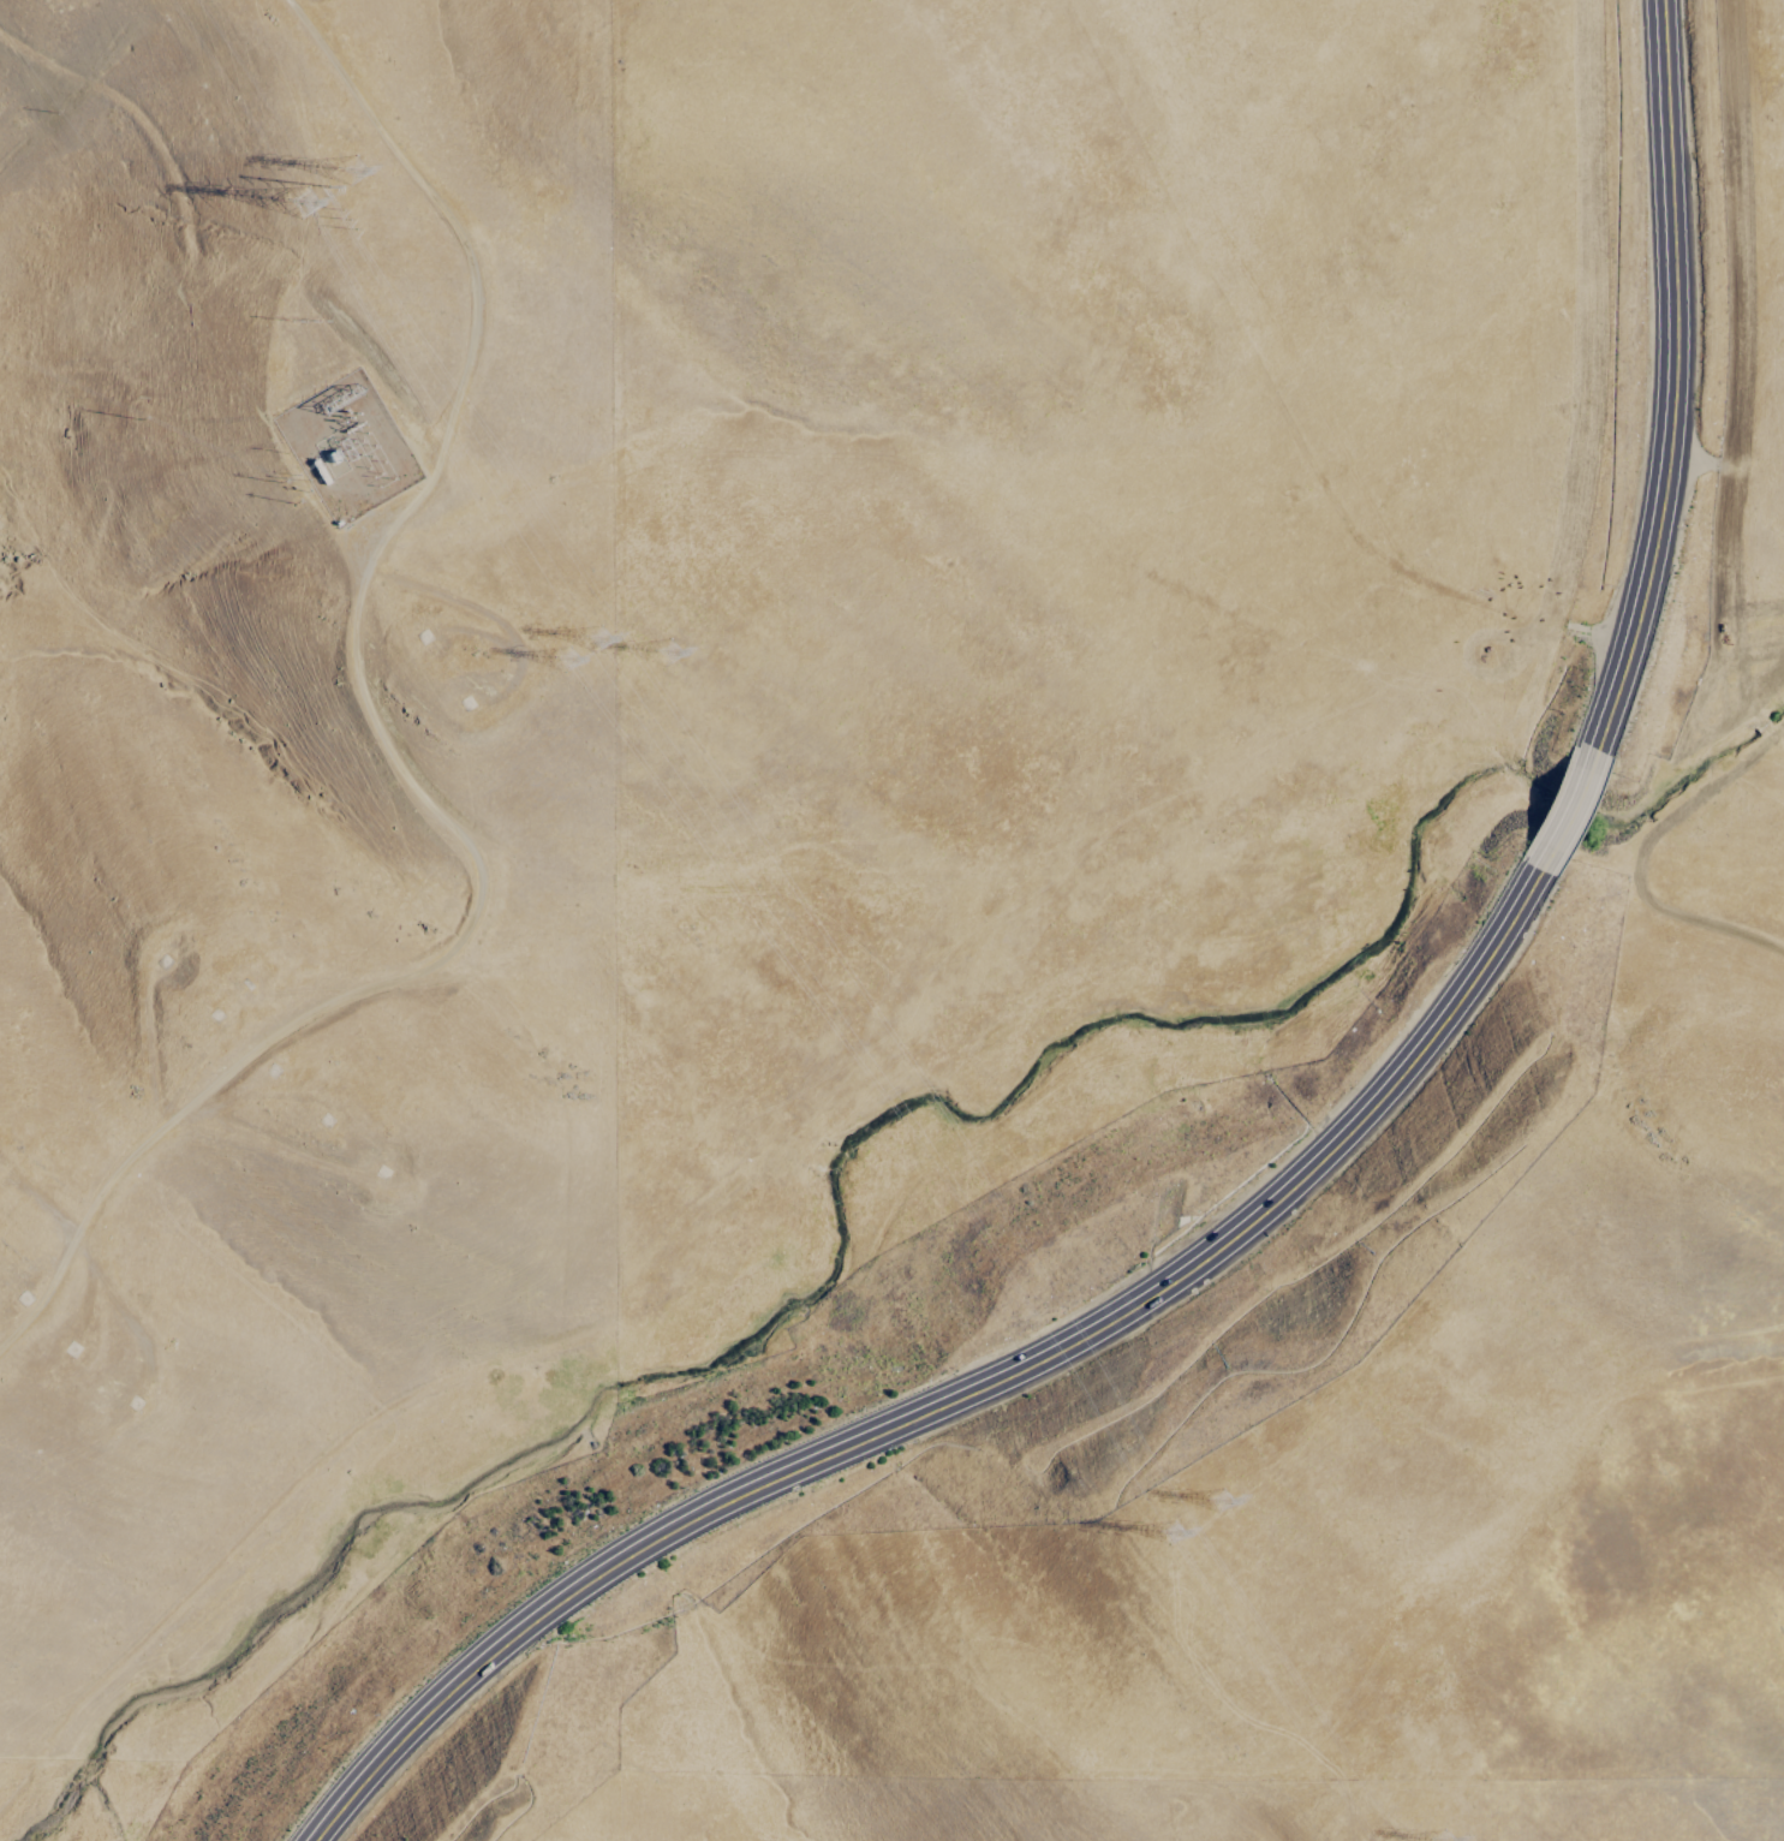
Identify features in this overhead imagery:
power tower: (350, 172)
power tower: (324, 190)
power tower: (302, 205)
power tower: (346, 220)
power tower: (303, 322)
road: (1672, 380)
power substation: (345, 447)
power tower: (593, 639)
power tower: (661, 651)
power tower: (561, 660)
road: (376, 739)
road: (1562, 811)
road: (962, 1394)
power tower: (1215, 1505)
power tower: (1164, 1536)

